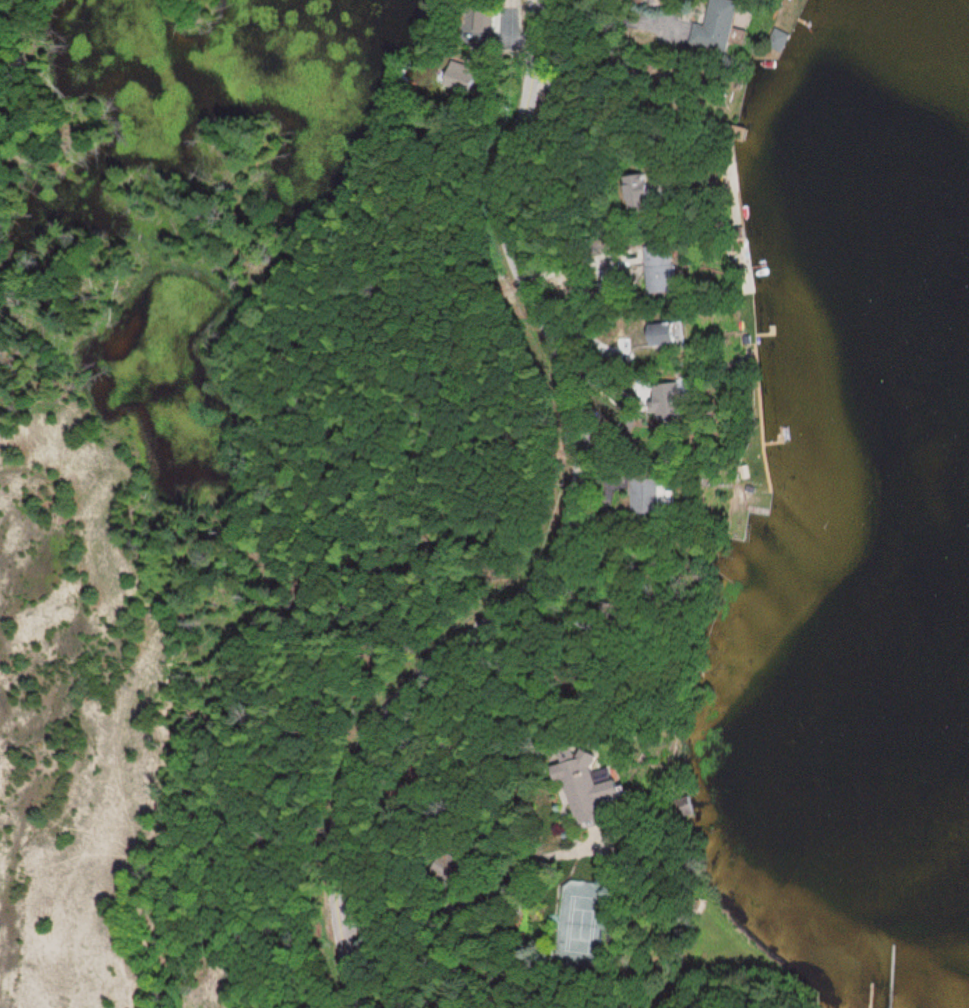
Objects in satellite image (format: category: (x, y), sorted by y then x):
building: (726, 25)
building: (668, 270)
building: (681, 335)
park: (233, 462)
building: (656, 496)
road: (570, 538)
building: (600, 792)
park: (586, 922)
road: (674, 993)

